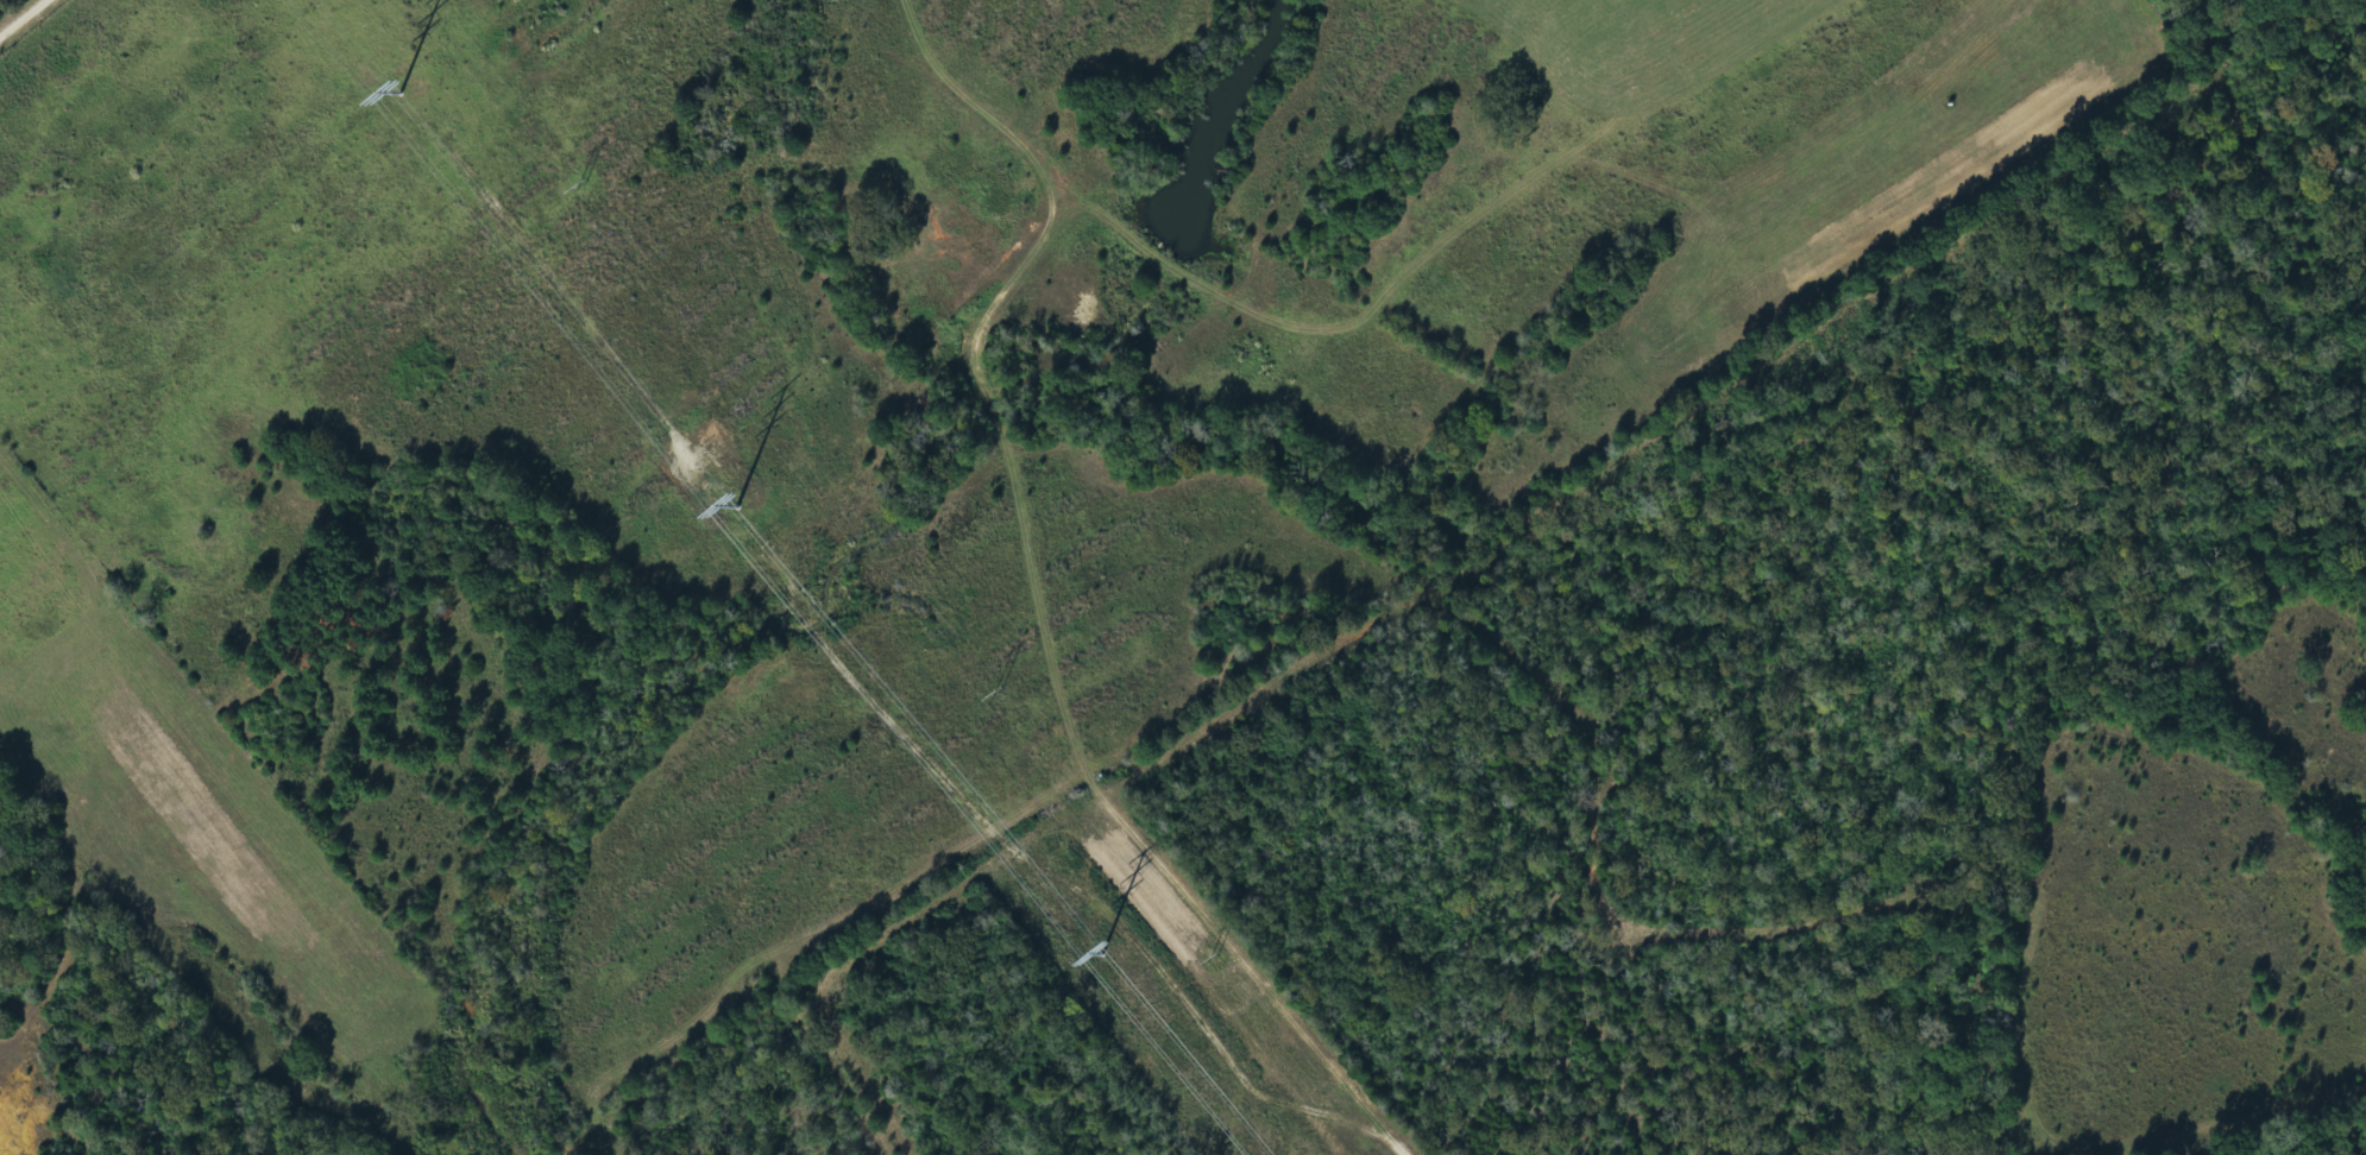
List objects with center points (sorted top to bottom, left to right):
road: (36, 31)
power tower: (379, 101)
power tower: (577, 181)
power tower: (718, 510)
power tower: (995, 693)
power tower: (1213, 958)
power tower: (1081, 959)
road: (850, 1074)

